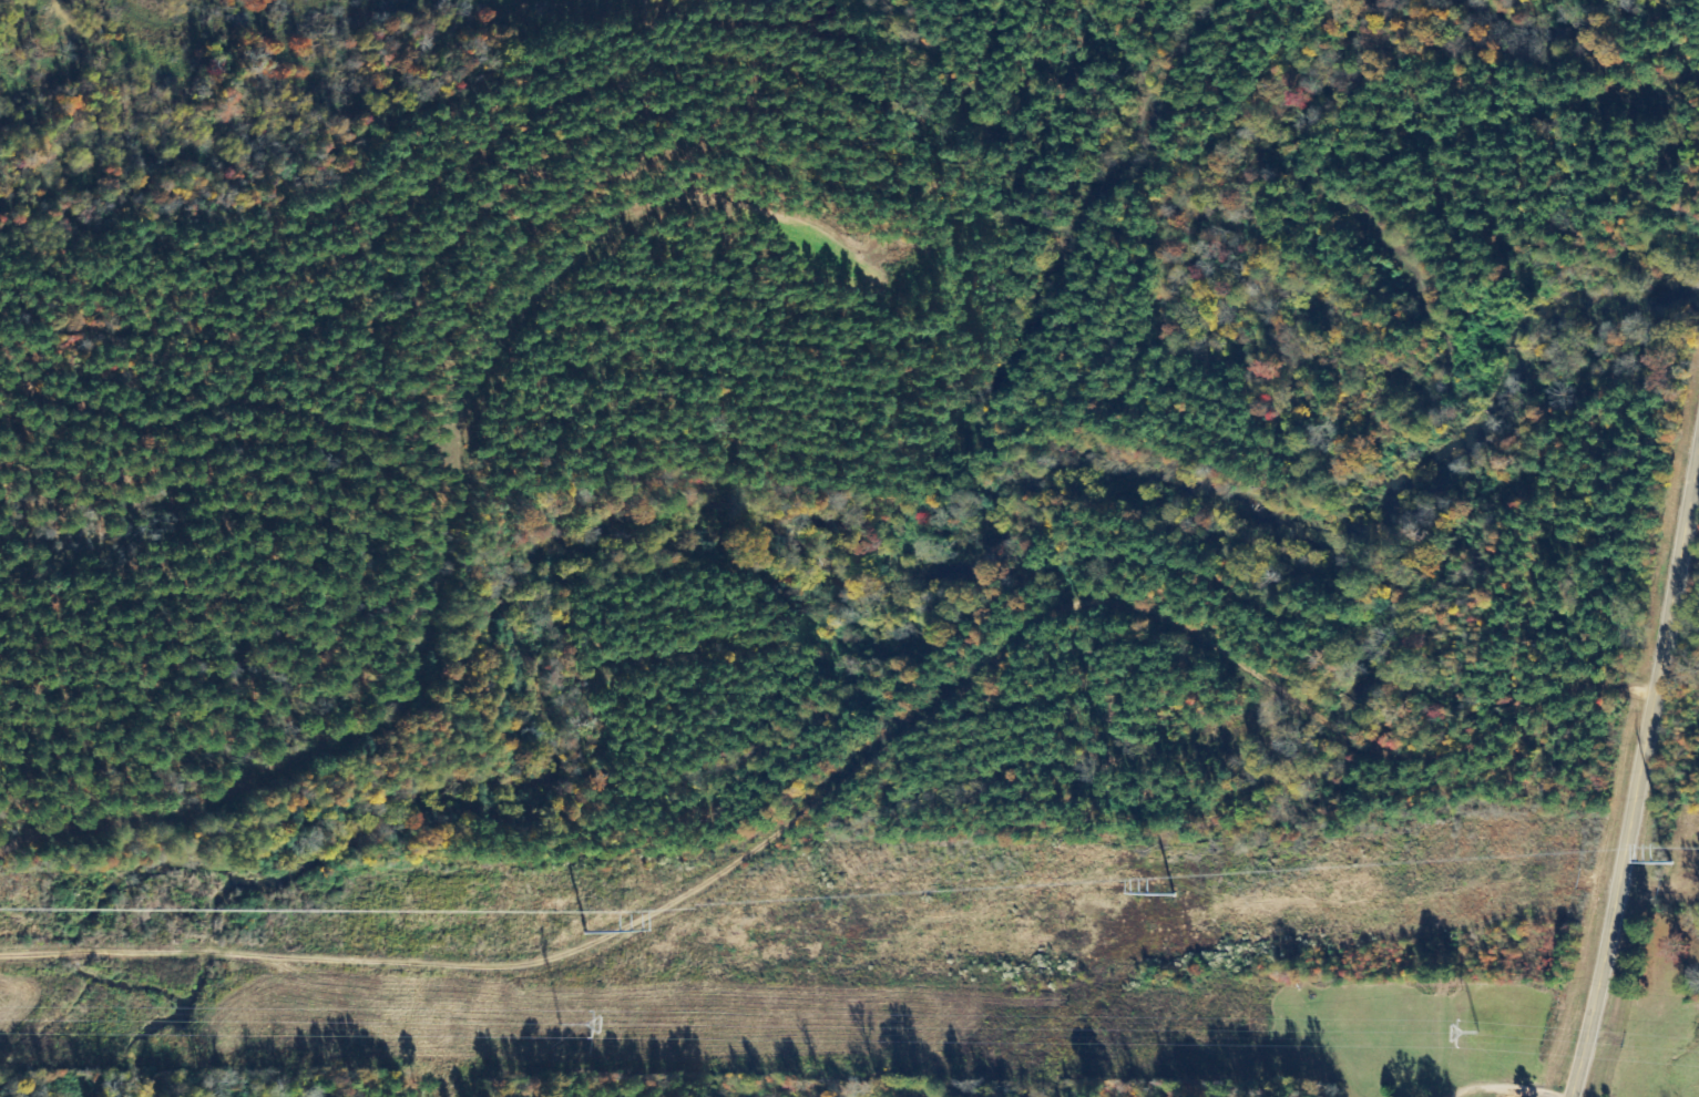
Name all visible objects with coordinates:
road: (1639, 778)
power tower: (560, 1021)
power tower: (1476, 1029)

